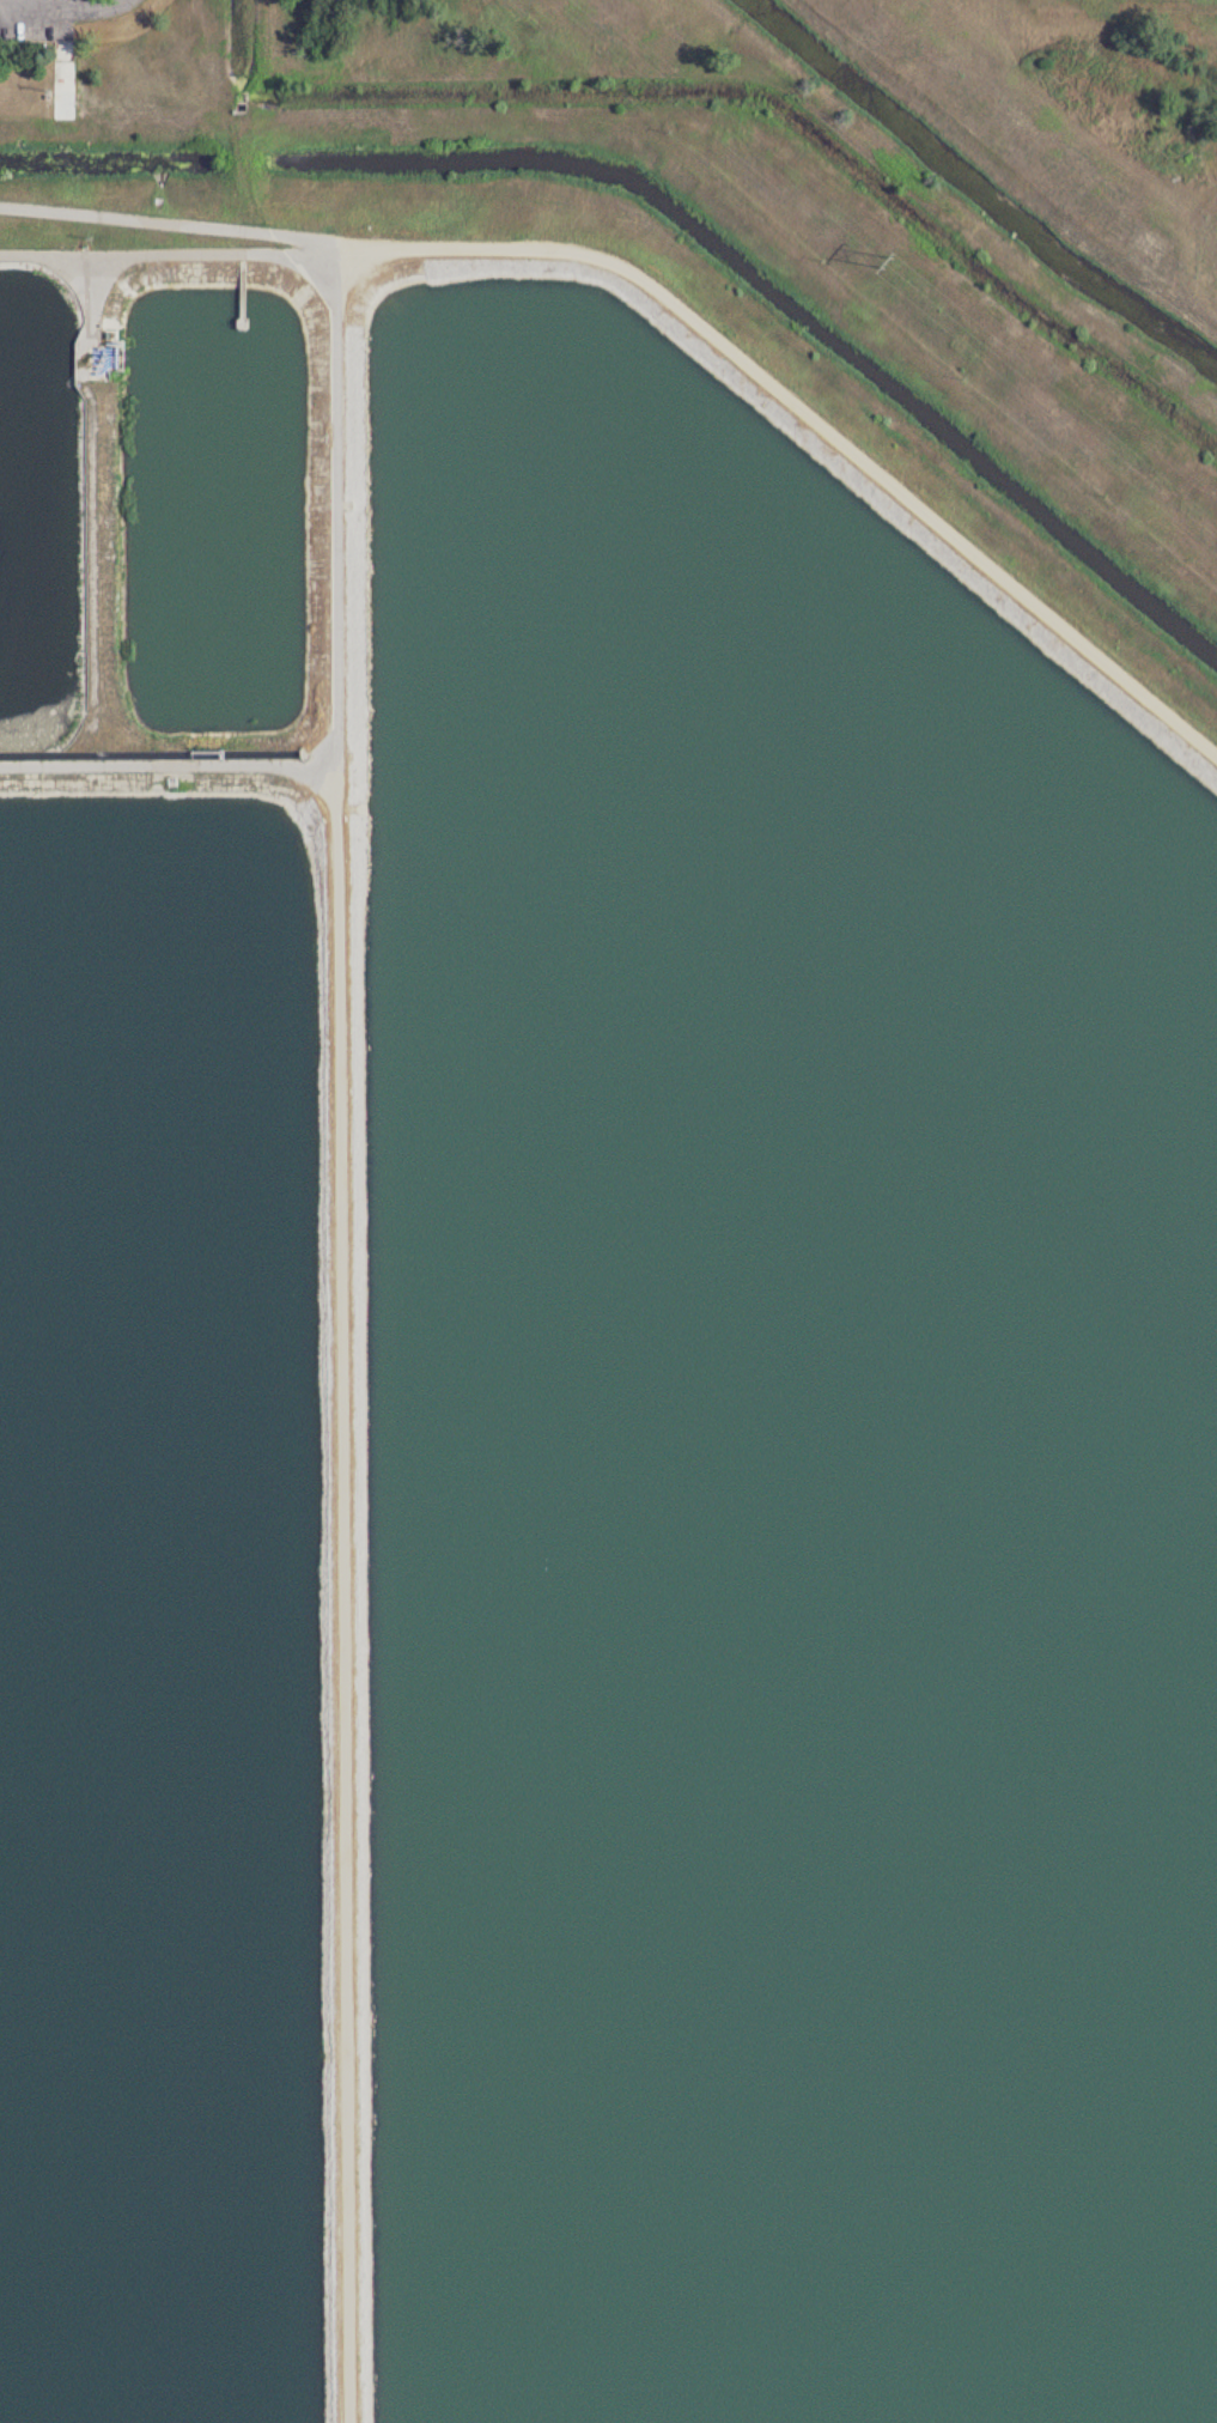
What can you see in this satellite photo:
road: (60, 10)
power tower: (887, 261)
road: (337, 804)
wastewater plant: (608, 1211)

